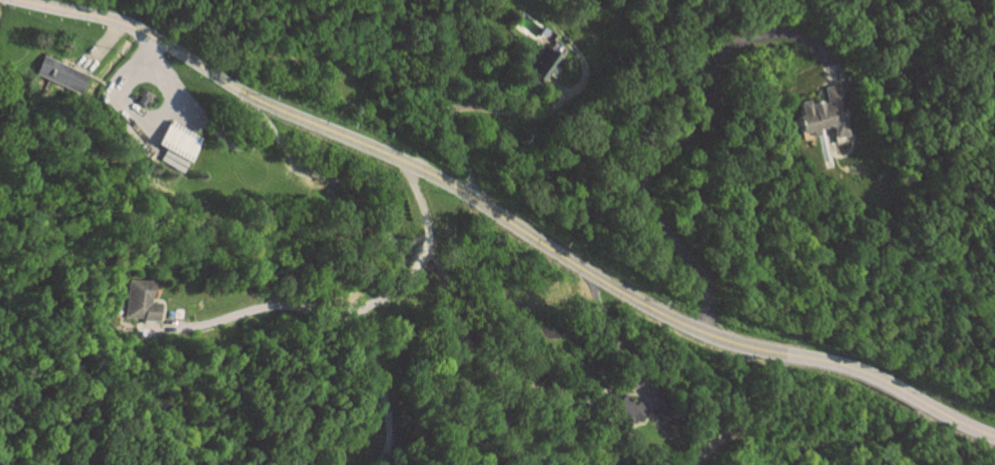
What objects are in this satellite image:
road: (455, 54)
building: (545, 60)
building: (64, 76)
road: (565, 98)
building: (823, 114)
road: (142, 125)
road: (685, 138)
road: (463, 156)
road: (507, 221)
road: (421, 255)
building: (138, 301)
road: (245, 312)
road: (611, 337)
road: (377, 389)

